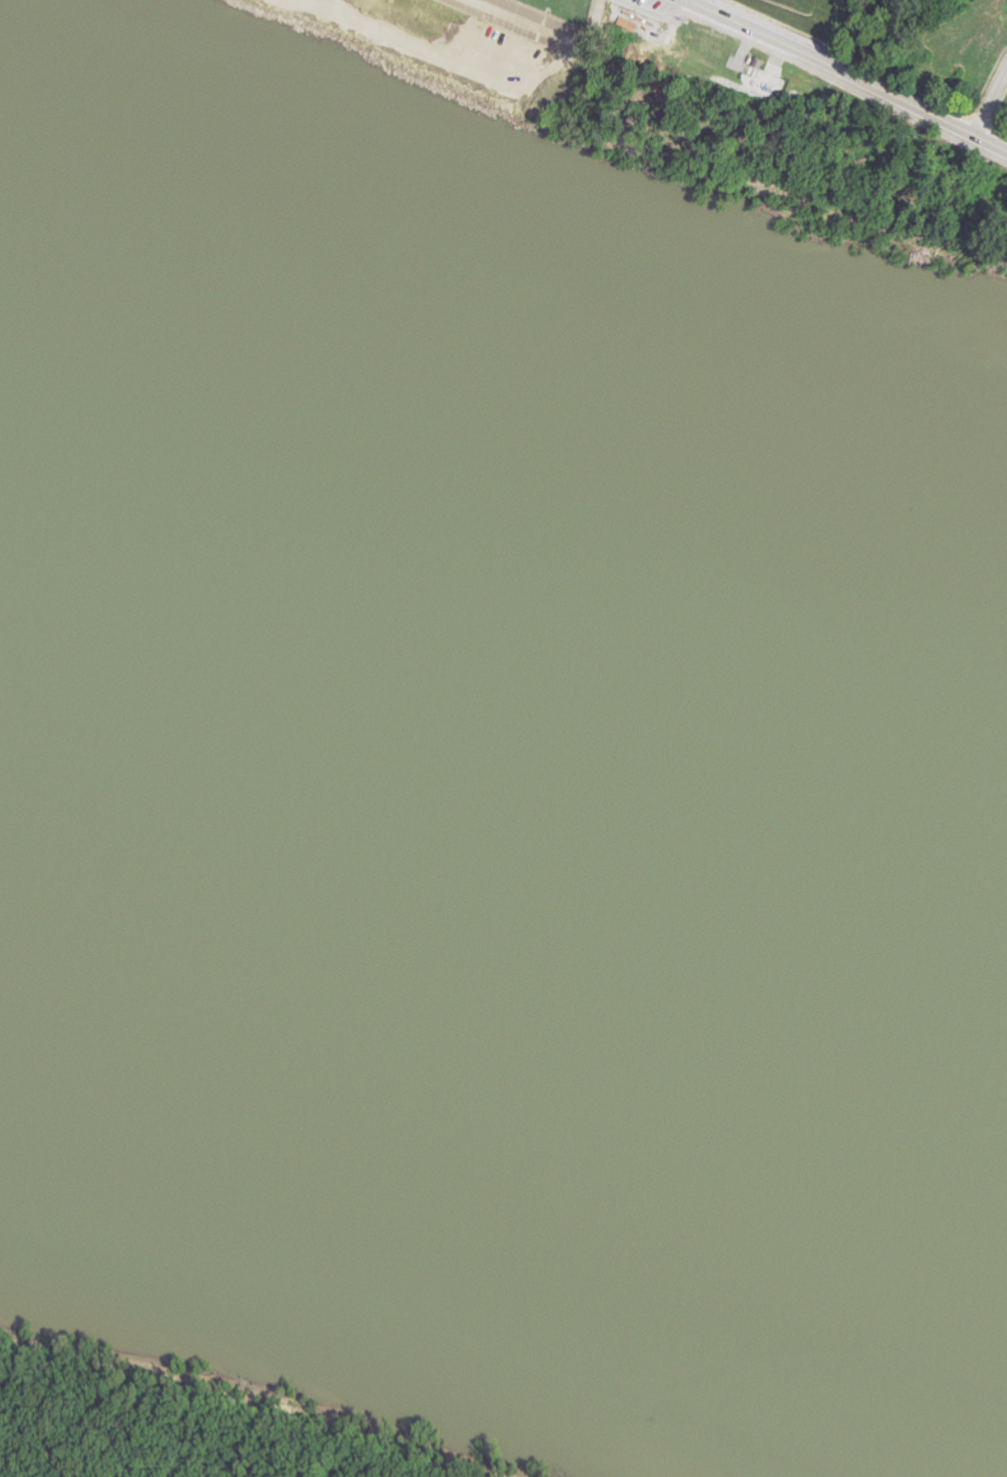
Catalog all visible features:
park: (590, 48)
road: (814, 70)
road: (847, 74)
road: (991, 102)
river: (240, 527)
river: (743, 632)
river: (743, 708)

